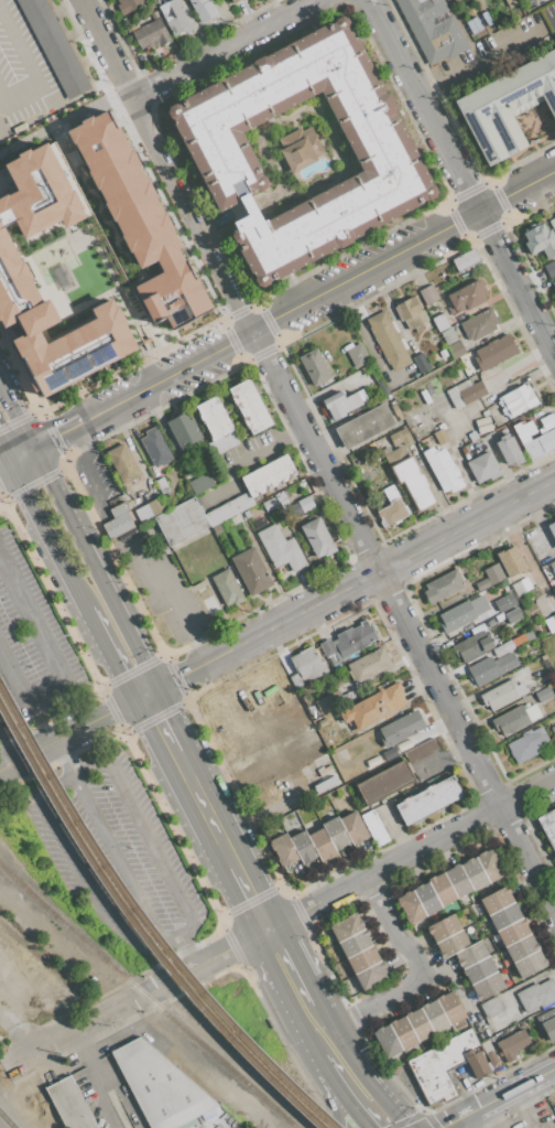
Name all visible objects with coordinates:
building: (231, 0)
building: (236, 1)
building: (509, 2)
parking lot: (524, 2)
building: (479, 4)
building: (128, 6)
building: (204, 10)
building: (154, 14)
building: (175, 17)
building: (144, 20)
building: (132, 26)
building: (432, 29)
building: (151, 34)
building: (55, 45)
road: (104, 46)
road: (220, 47)
parking lot: (496, 52)
road: (30, 60)
road: (487, 60)
parking lot: (23, 74)
road: (4, 86)
building: (505, 105)
road: (64, 128)
building: (220, 151)
building: (336, 154)
road: (461, 179)
road: (541, 180)
road: (503, 200)
road: (191, 213)
building: (145, 223)
building: (552, 223)
road: (446, 229)
building: (541, 239)
building: (466, 259)
building: (549, 269)
building: (14, 270)
road: (364, 271)
building: (554, 283)
building: (427, 292)
building: (466, 296)
building: (406, 307)
road: (285, 314)
building: (439, 321)
building: (479, 325)
building: (448, 336)
building: (387, 340)
building: (413, 347)
parking lot: (131, 348)
building: (456, 350)
building: (494, 352)
building: (443, 353)
building: (357, 354)
road: (198, 359)
building: (422, 363)
building: (315, 367)
road: (19, 373)
building: (472, 393)
building: (425, 396)
building: (454, 397)
building: (516, 400)
building: (341, 404)
building: (250, 406)
road: (108, 408)
building: (486, 412)
building: (214, 417)
road: (19, 418)
road: (15, 420)
building: (547, 420)
building: (483, 425)
building: (364, 426)
building: (184, 429)
building: (472, 434)
traffic signals: (56, 436)
building: (439, 436)
road: (51, 437)
road: (76, 437)
building: (401, 437)
road: (51, 438)
building: (533, 440)
building: (225, 443)
building: (155, 447)
road: (262, 449)
building: (510, 449)
road: (3, 456)
road: (19, 456)
building: (395, 456)
building: (122, 463)
road: (3, 466)
building: (483, 466)
building: (443, 469)
building: (269, 475)
traffic signals: (48, 480)
road: (90, 480)
road: (34, 482)
parking lot: (97, 482)
building: (413, 482)
building: (202, 483)
building: (162, 484)
road: (52, 486)
building: (280, 496)
road: (1, 497)
road: (1, 498)
building: (305, 503)
building: (269, 504)
building: (391, 508)
building: (151, 509)
building: (229, 509)
building: (247, 514)
building: (118, 519)
road: (86, 520)
building: (181, 522)
building: (217, 529)
building: (552, 529)
road: (45, 536)
building: (318, 537)
road: (119, 547)
building: (281, 548)
road: (99, 557)
building: (512, 560)
building: (548, 567)
building: (251, 571)
road: (4, 576)
building: (490, 577)
building: (554, 580)
building: (443, 584)
building: (521, 587)
building: (227, 588)
road: (351, 588)
road: (162, 591)
building: (508, 601)
building: (210, 604)
road: (113, 606)
building: (457, 616)
building: (513, 616)
road: (403, 620)
building: (549, 624)
building: (529, 635)
building: (519, 640)
building: (348, 641)
building: (472, 646)
parking lot: (31, 648)
building: (503, 648)
road: (200, 651)
road: (108, 655)
building: (307, 664)
building: (368, 665)
road: (57, 667)
building: (485, 670)
building: (295, 679)
building: (335, 680)
building: (534, 687)
traffic signals: (146, 692)
building: (502, 694)
building: (544, 695)
building: (349, 696)
building: (329, 701)
building: (374, 706)
building: (314, 712)
road: (99, 716)
building: (515, 719)
road: (161, 721)
building: (323, 722)
road: (13, 728)
building: (401, 729)
building: (553, 730)
parking lot: (1, 732)
building: (526, 744)
building: (403, 745)
building: (420, 750)
road: (4, 753)
road: (25, 753)
building: (390, 754)
road: (63, 758)
road: (183, 762)
building: (271, 762)
building: (384, 782)
building: (428, 799)
road: (204, 806)
road: (141, 825)
building: (548, 825)
building: (353, 827)
building: (374, 827)
building: (336, 832)
road: (437, 839)
building: (322, 844)
building: (303, 847)
building: (283, 850)
road: (228, 851)
parking lot: (113, 852)
road: (115, 858)
building: (491, 864)
road: (76, 872)
building: (475, 873)
building: (458, 881)
building: (443, 890)
road: (251, 898)
building: (426, 898)
building: (497, 901)
building: (411, 906)
building: (478, 911)
road: (294, 915)
building: (504, 916)
railway: (146, 923)
road: (398, 926)
building: (346, 927)
building: (444, 928)
railway: (142, 931)
building: (513, 932)
road: (177, 933)
building: (355, 944)
building: (451, 944)
road: (232, 948)
building: (522, 948)
building: (470, 954)
road: (179, 955)
road: (282, 955)
building: (363, 959)
building: (530, 964)
building: (479, 969)
building: (371, 975)
building: (349, 985)
building: (487, 986)
road: (302, 992)
building: (536, 995)
railway: (148, 997)
road: (373, 1005)
building: (491, 1007)
building: (450, 1008)
building: (434, 1016)
road: (100, 1019)
road: (316, 1019)
building: (418, 1023)
building: (549, 1028)
building: (403, 1032)
building: (388, 1041)
road: (29, 1042)
road: (319, 1043)
building: (512, 1044)
road: (347, 1053)
building: (476, 1063)
building: (440, 1066)
road: (329, 1075)
road: (91, 1081)
building: (160, 1086)
road: (468, 1088)
road: (497, 1098)
building: (69, 1104)
road: (385, 1105)
road: (526, 1107)
building: (553, 1108)
road: (341, 1111)
road: (355, 1111)
railway: (7, 1120)
road: (460, 1121)
building: (187, 1124)

